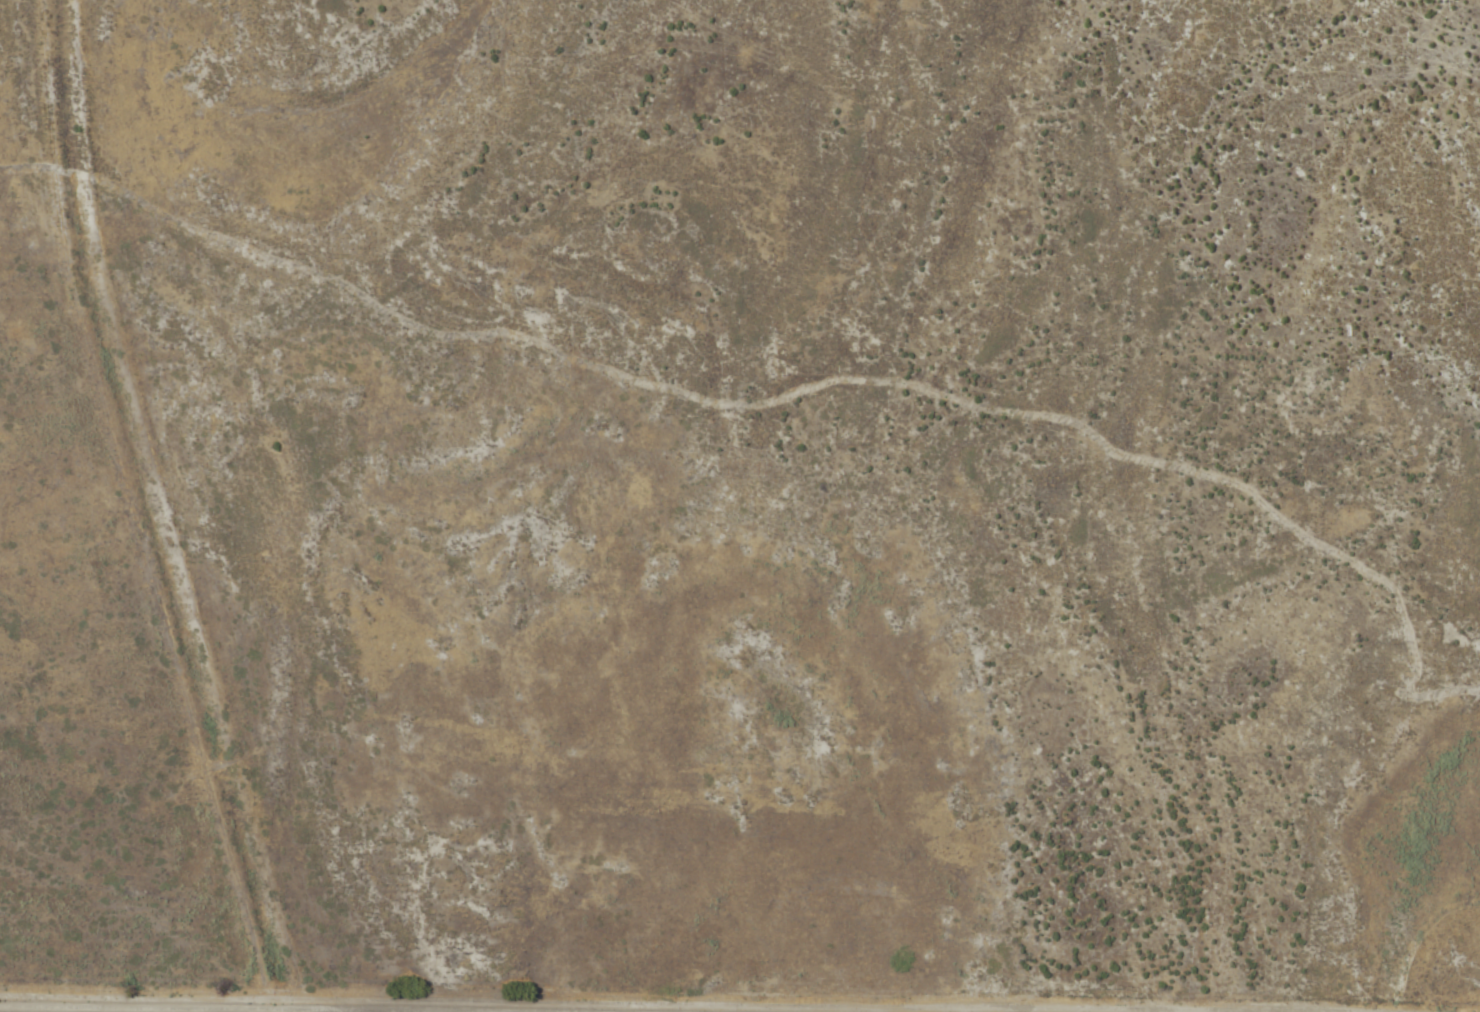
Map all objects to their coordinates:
road: (132, 999)

